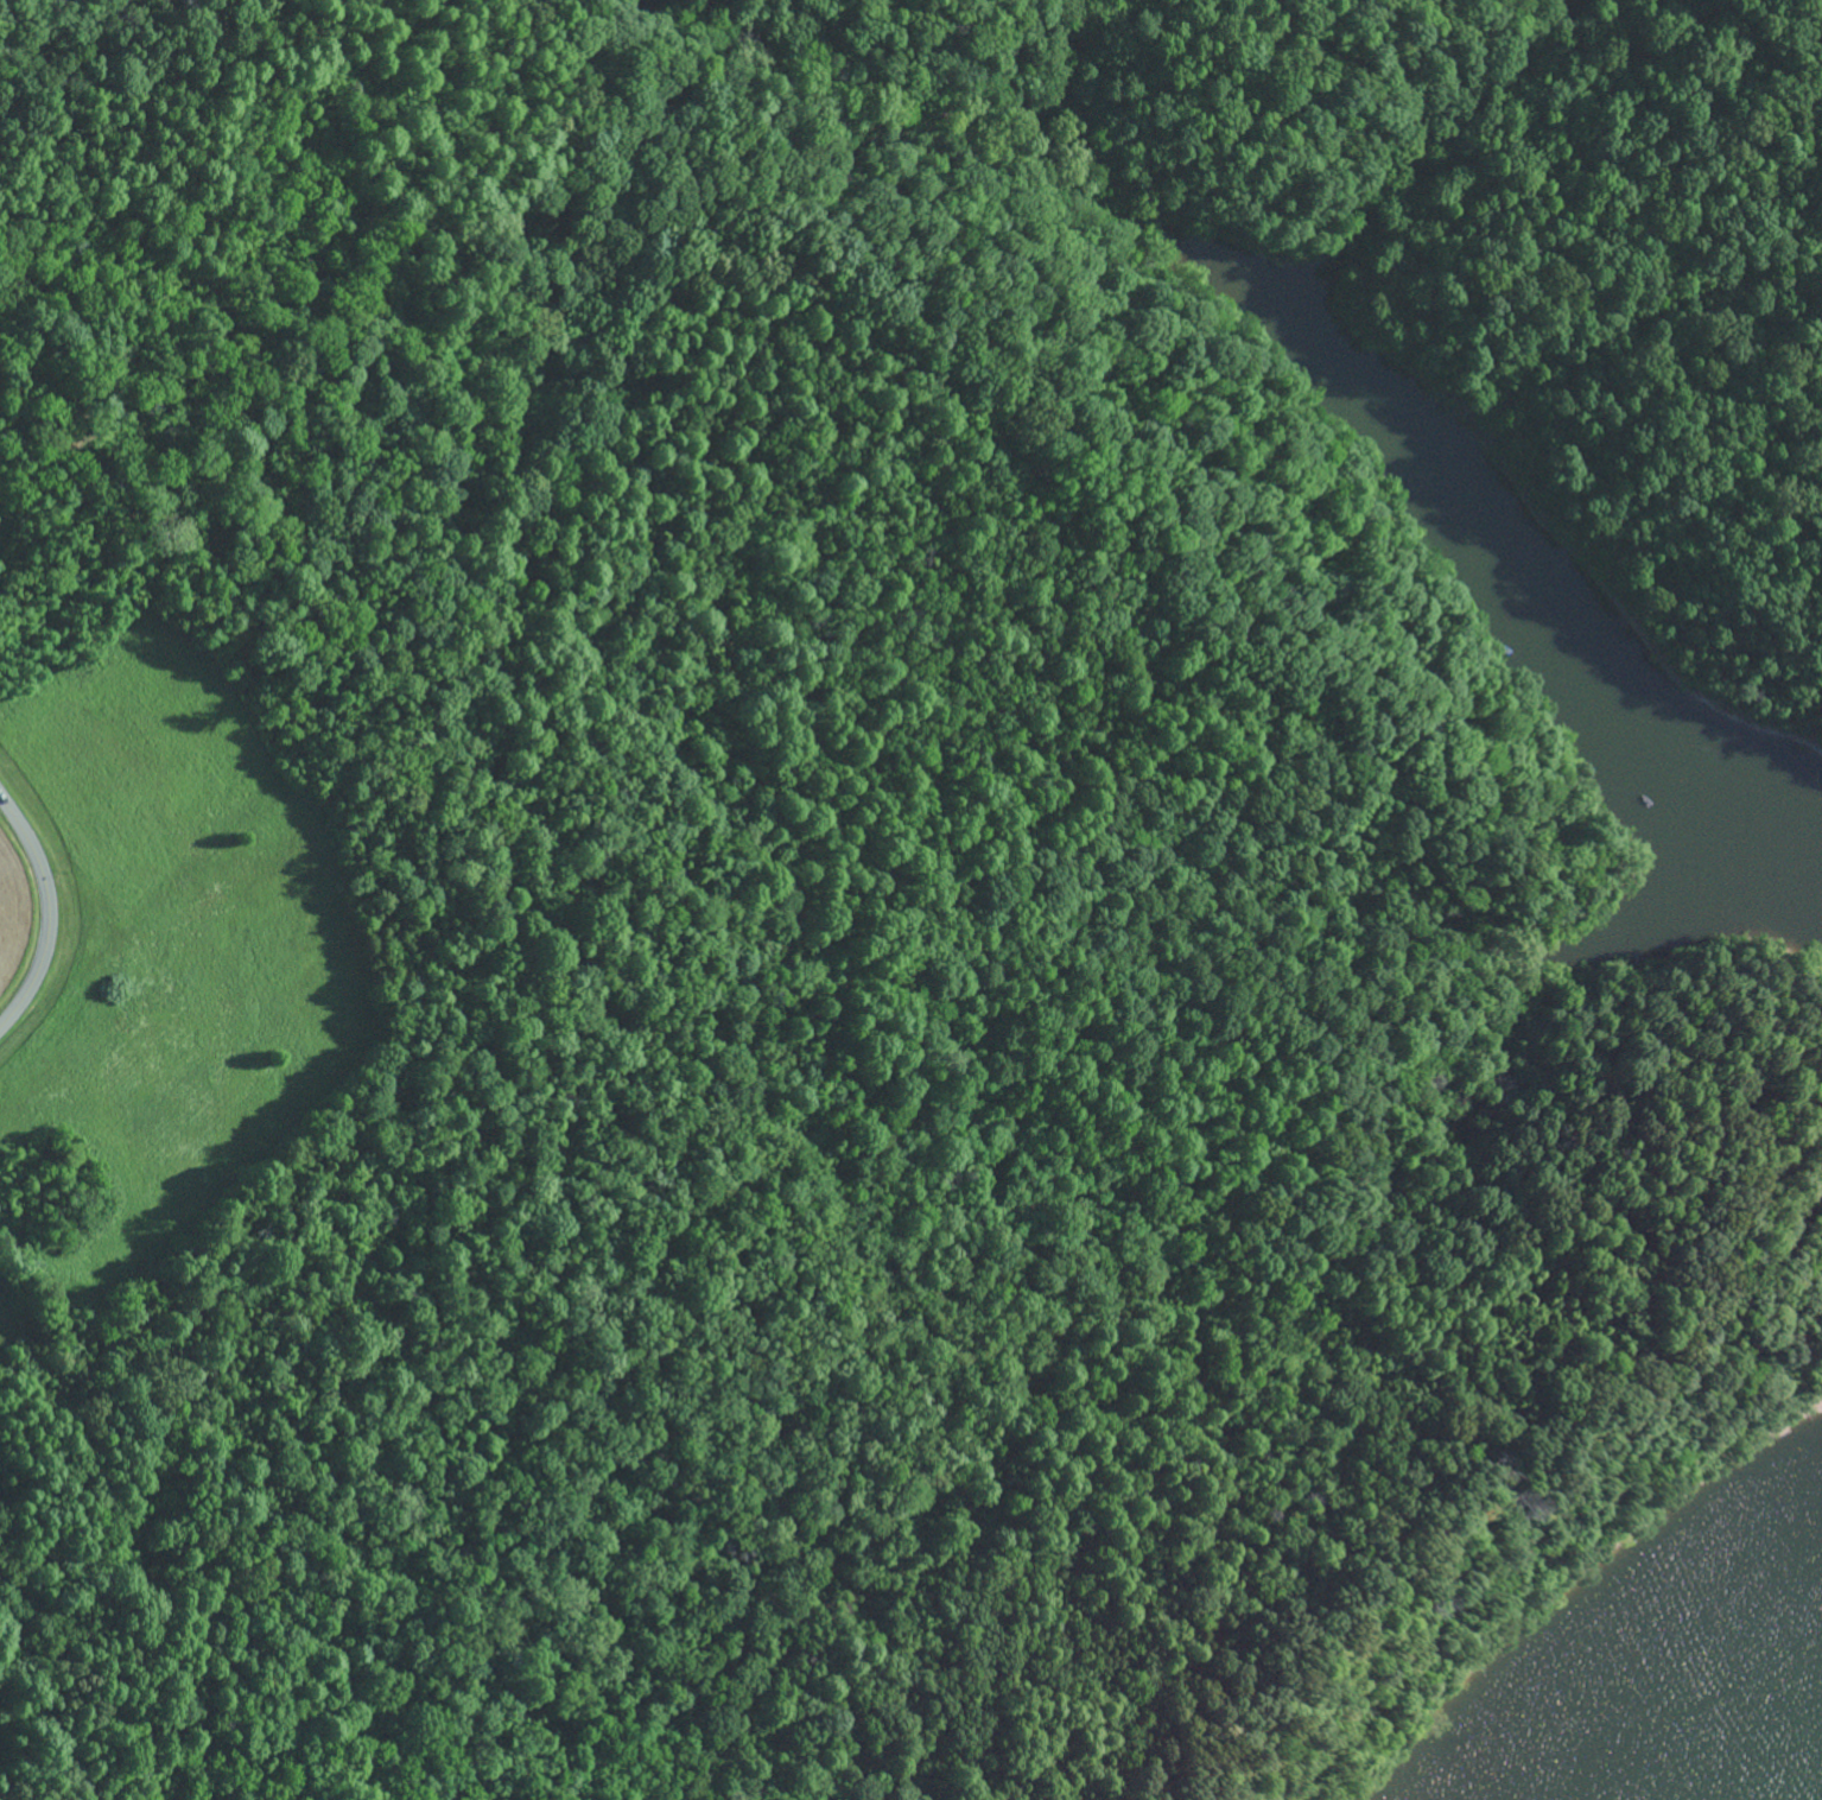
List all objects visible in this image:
park: (866, 888)
road: (49, 911)

